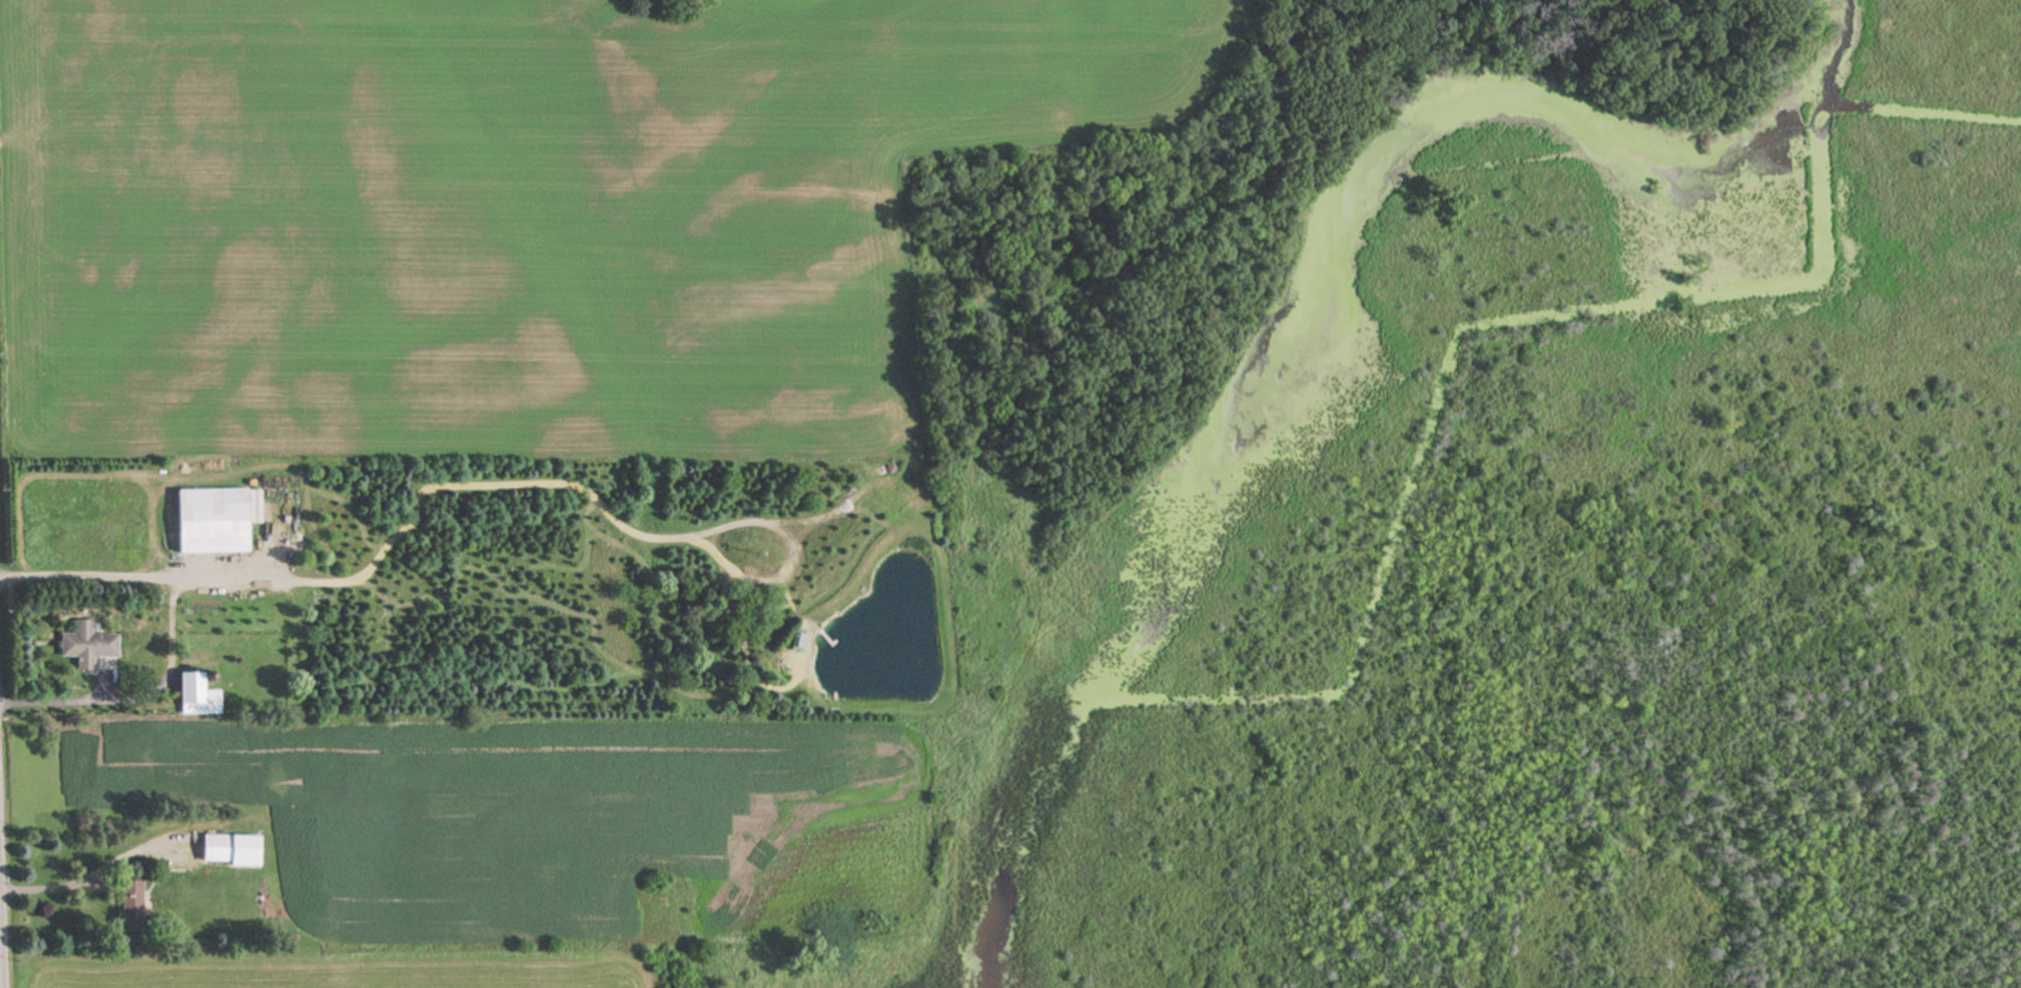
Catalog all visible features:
building: (223, 520)
road: (140, 577)
building: (95, 645)
building: (206, 690)
road: (138, 697)
building: (226, 848)
road: (95, 872)
building: (139, 898)
road: (1, 925)

